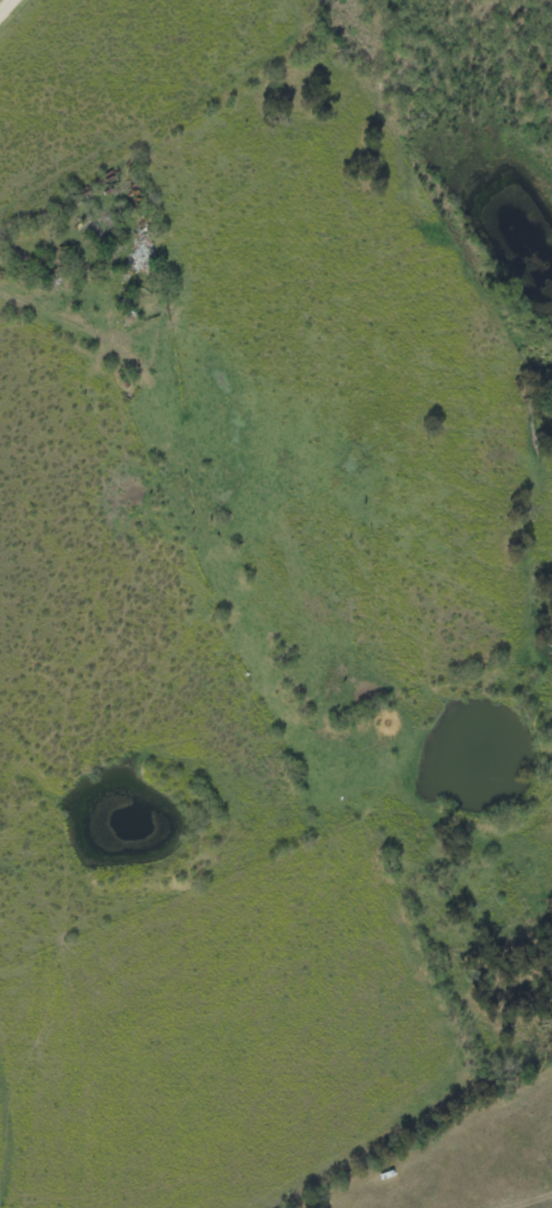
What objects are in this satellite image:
road: (8, 8)

